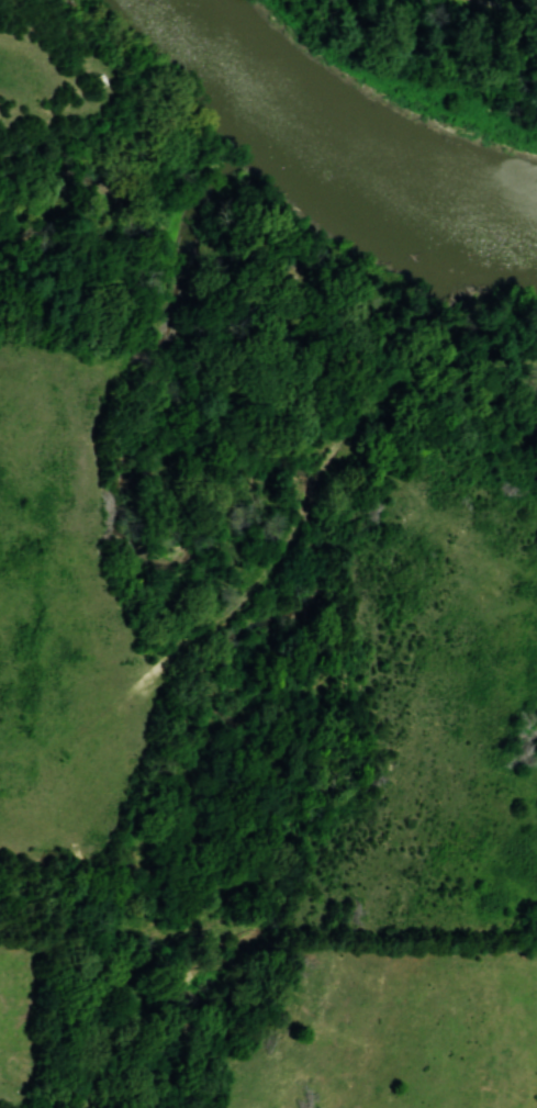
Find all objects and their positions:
river: (347, 126)

